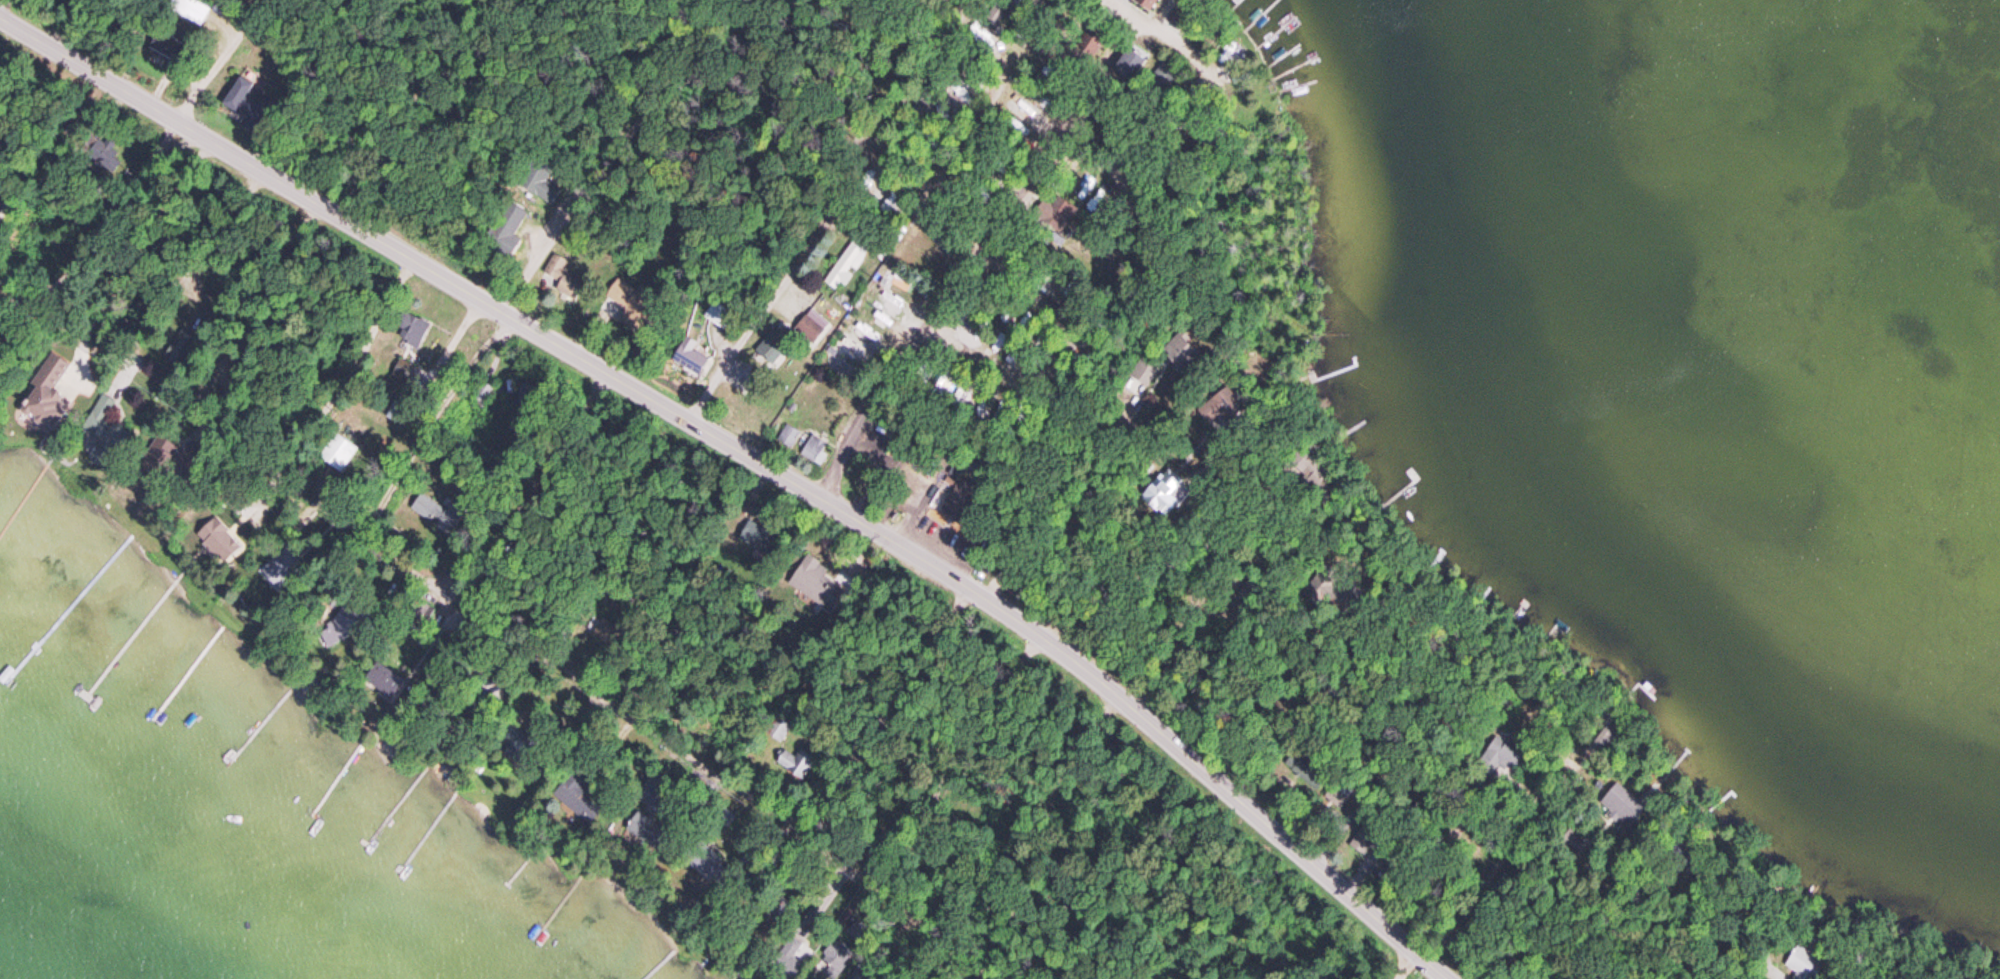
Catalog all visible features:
building: (1148, 3)
building: (190, 11)
road: (223, 60)
road: (414, 108)
road: (601, 150)
building: (538, 181)
road: (824, 204)
road: (113, 214)
building: (507, 226)
road: (983, 240)
building: (850, 262)
building: (554, 267)
road: (19, 290)
road: (257, 310)
building: (818, 322)
building: (1139, 375)
building: (46, 382)
building: (481, 395)
road: (431, 418)
building: (789, 437)
road: (741, 451)
building: (815, 451)
building: (338, 455)
building: (967, 502)
building: (425, 509)
road: (1077, 515)
road: (336, 566)
road: (1203, 644)
road: (582, 681)
road: (888, 710)
road: (956, 757)
building: (795, 763)
road: (832, 854)
road: (1497, 861)
road: (941, 926)
road: (1575, 927)
road: (1630, 931)
road: (1703, 948)
building: (1801, 964)
road: (1405, 965)
road: (1435, 971)

